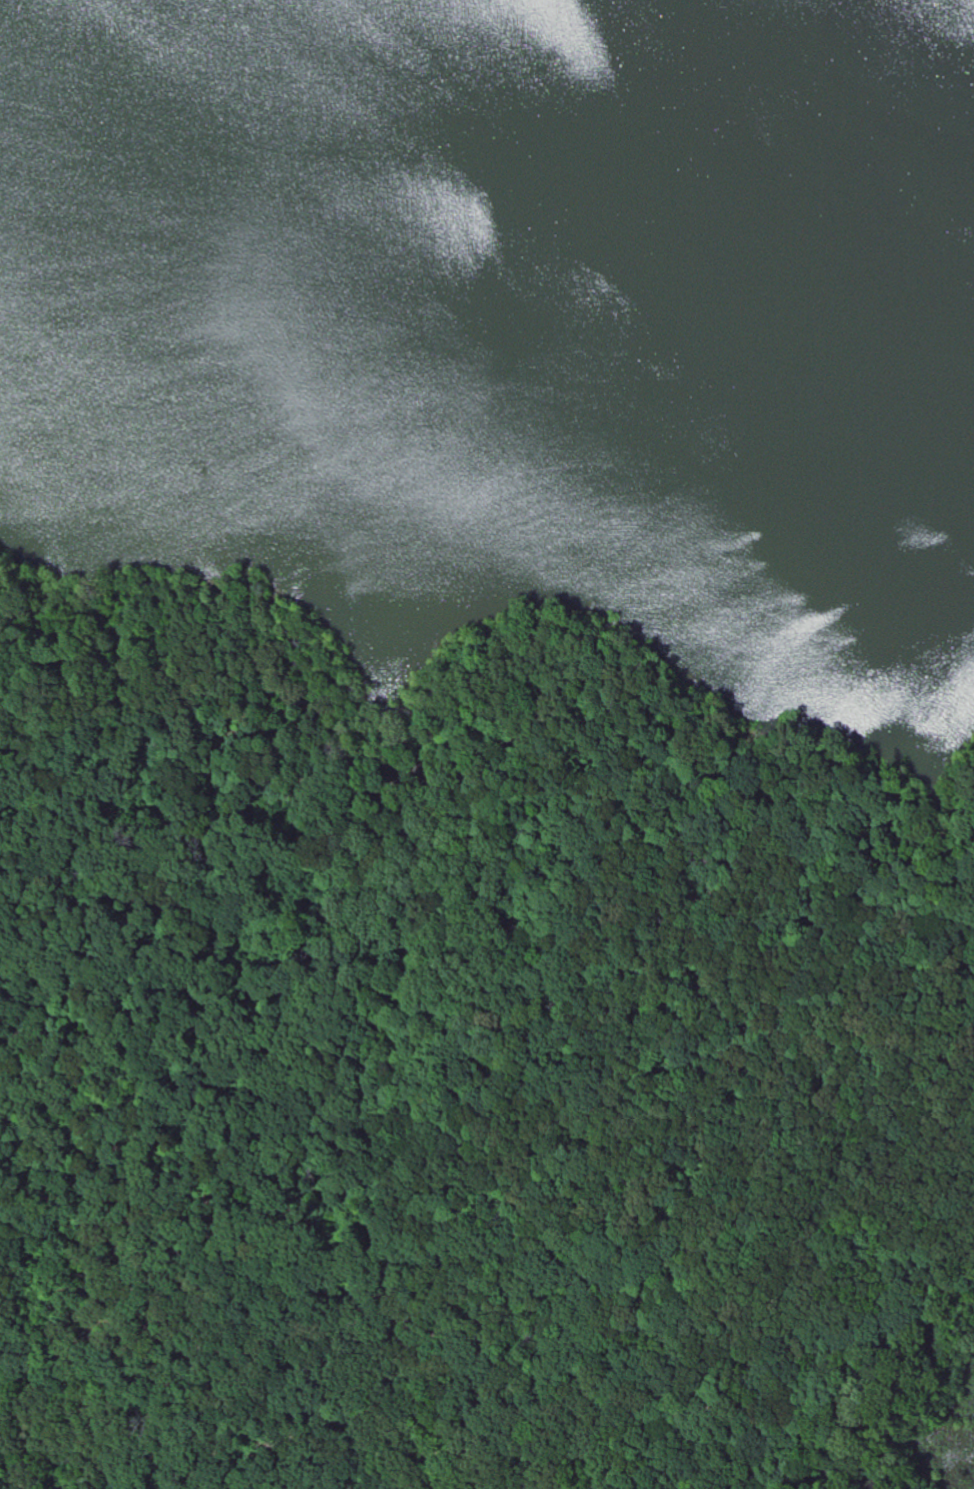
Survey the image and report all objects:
road: (489, 1051)

